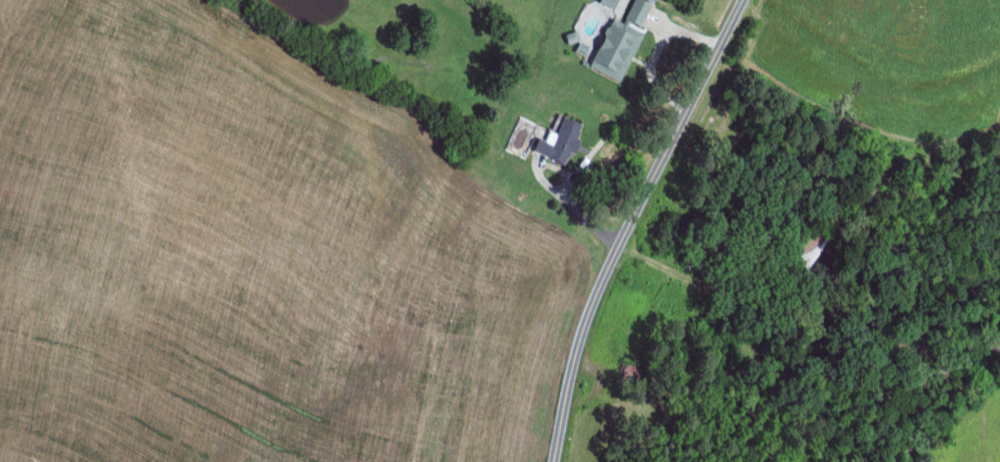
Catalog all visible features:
building: (611, 3)
building: (640, 11)
building: (617, 49)
building: (561, 139)
road: (569, 202)
road: (631, 223)

